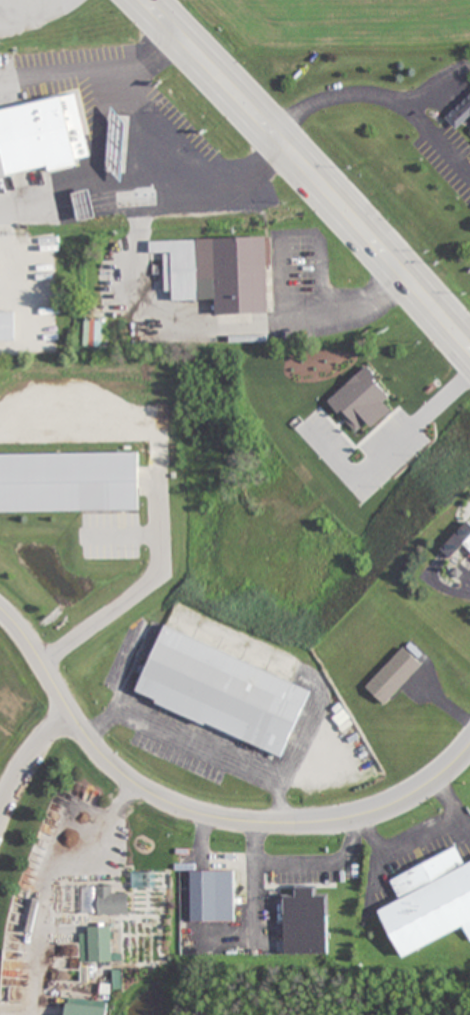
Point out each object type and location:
crop: (329, 24)
road: (60, 75)
road: (365, 94)
building: (460, 114)
road: (175, 131)
building: (40, 136)
building: (116, 143)
road: (318, 163)
road: (300, 181)
road: (72, 190)
building: (84, 205)
road: (294, 230)
building: (219, 272)
road: (20, 287)
road: (168, 323)
building: (7, 328)
building: (303, 474)
building: (69, 482)
building: (458, 541)
road: (135, 590)
building: (394, 675)
building: (235, 695)
road: (29, 755)
road: (198, 812)
building: (103, 902)
building: (430, 903)
building: (306, 921)
building: (97, 946)
building: (84, 1010)

